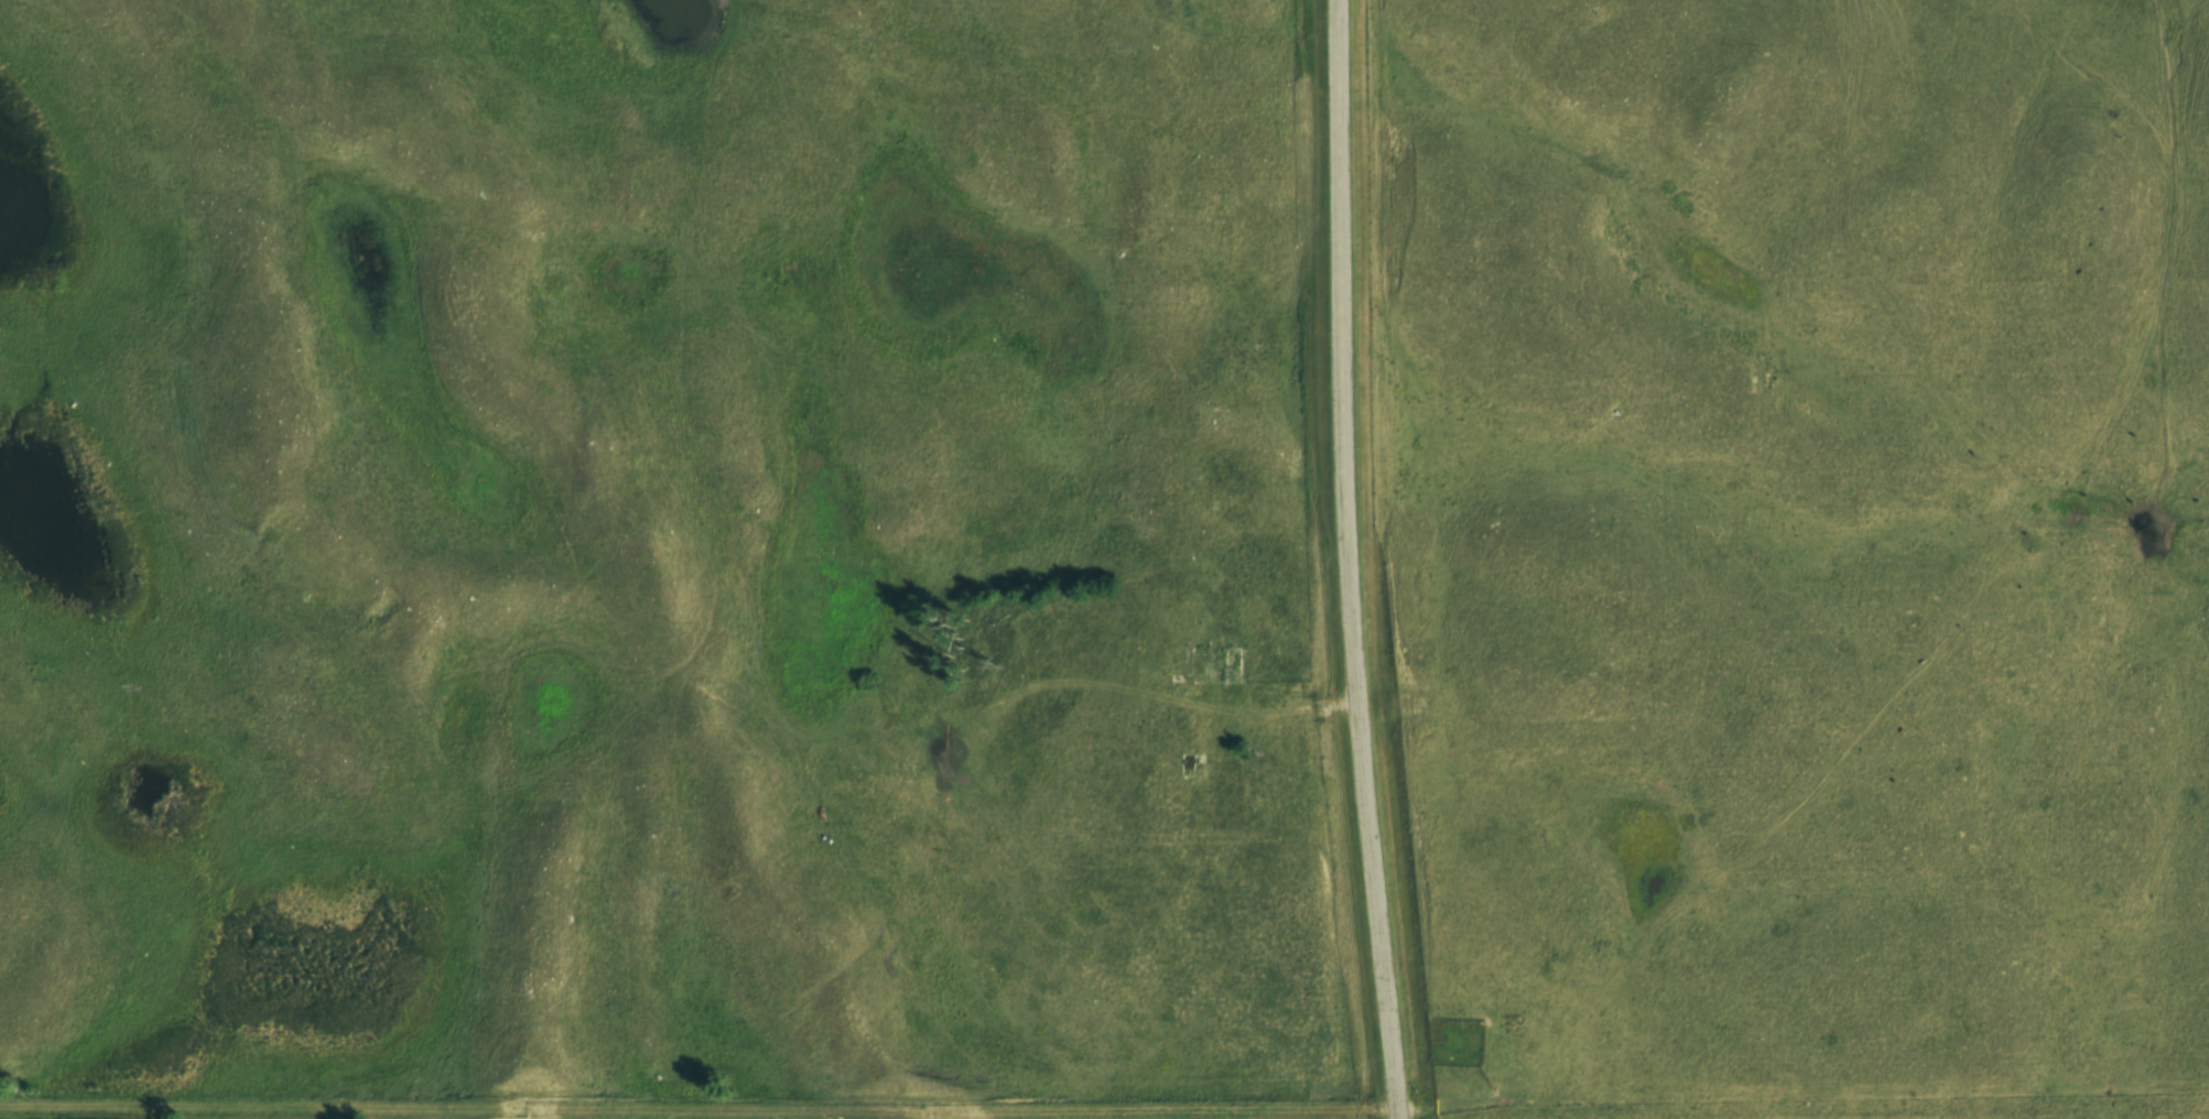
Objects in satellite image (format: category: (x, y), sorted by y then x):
road: (1345, 561)
road: (697, 1113)

